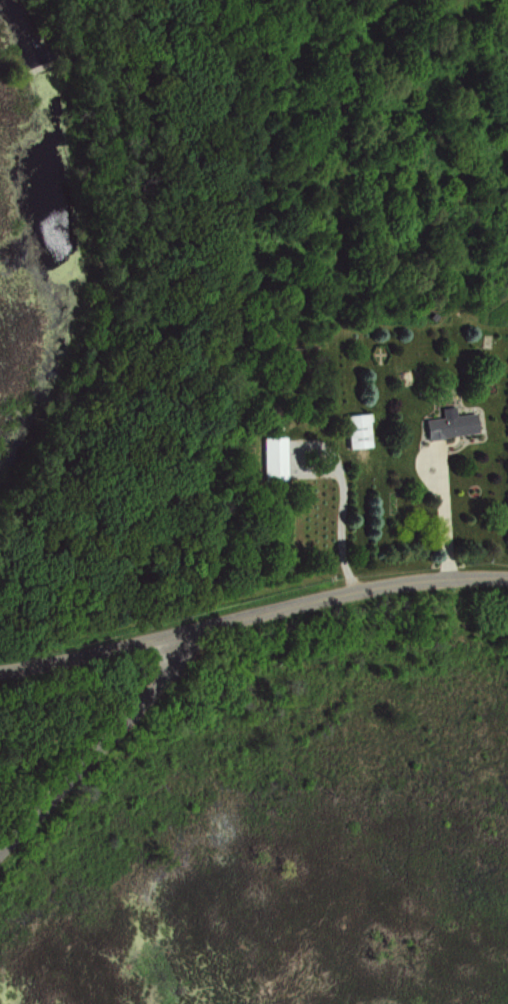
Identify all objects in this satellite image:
building: (456, 425)
building: (364, 431)
road: (440, 503)
road: (253, 613)
road: (88, 749)

